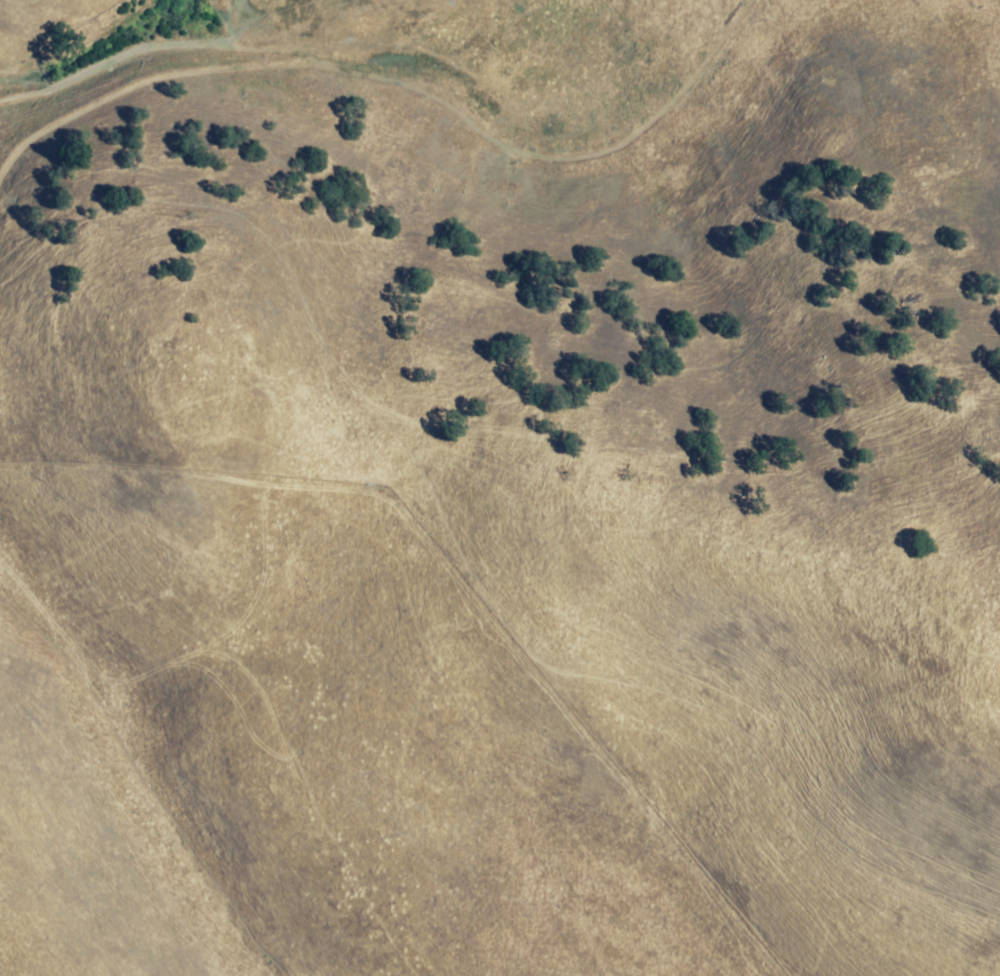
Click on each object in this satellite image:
road: (996, 1)
road: (400, 86)

